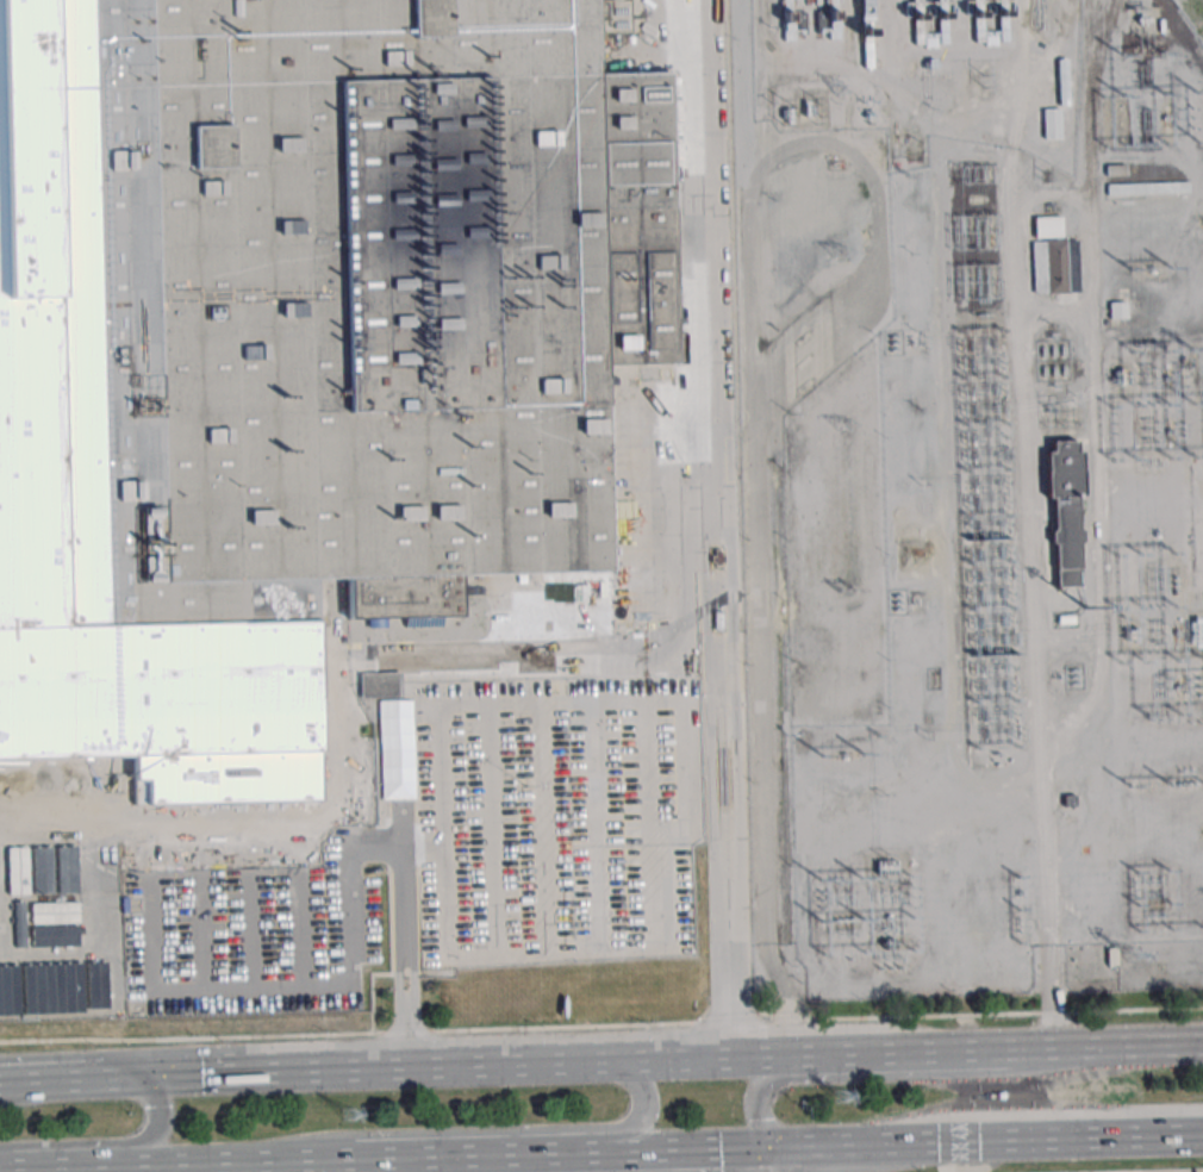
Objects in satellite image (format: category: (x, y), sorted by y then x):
building: (941, 17)
building: (990, 21)
building: (867, 48)
power tower: (983, 82)
power tower: (835, 87)
building: (1052, 123)
road: (1091, 242)
power tower: (837, 254)
building: (1053, 257)
road: (1068, 316)
building: (297, 347)
power tower: (842, 428)
power substation: (972, 488)
building: (1065, 511)
road: (709, 528)
power tower: (847, 593)
building: (51, 765)
road: (966, 777)
building: (51, 788)
road: (398, 821)
building: (54, 831)
road: (376, 853)
building: (55, 862)
building: (436, 865)
building: (55, 884)
building: (507, 903)
power tower: (1126, 960)
road: (1058, 973)
road: (789, 997)
road: (1052, 997)
road: (406, 1022)
road: (601, 1024)
road: (966, 1052)
road: (414, 1068)
road: (896, 1076)
traffic signals: (133, 1077)
road: (49, 1080)
power tower: (839, 1098)
road: (1028, 1114)
power tower: (345, 1115)
road: (474, 1130)
road: (1189, 1134)
road: (1077, 1137)
road: (111, 1142)
road: (872, 1143)
road: (948, 1143)
traffic signals: (767, 1147)
road: (724, 1148)
road: (652, 1151)
road: (479, 1154)
road: (767, 1159)
road: (272, 1161)
road: (104, 1166)
road: (207, 1167)
road: (1170, 1171)

